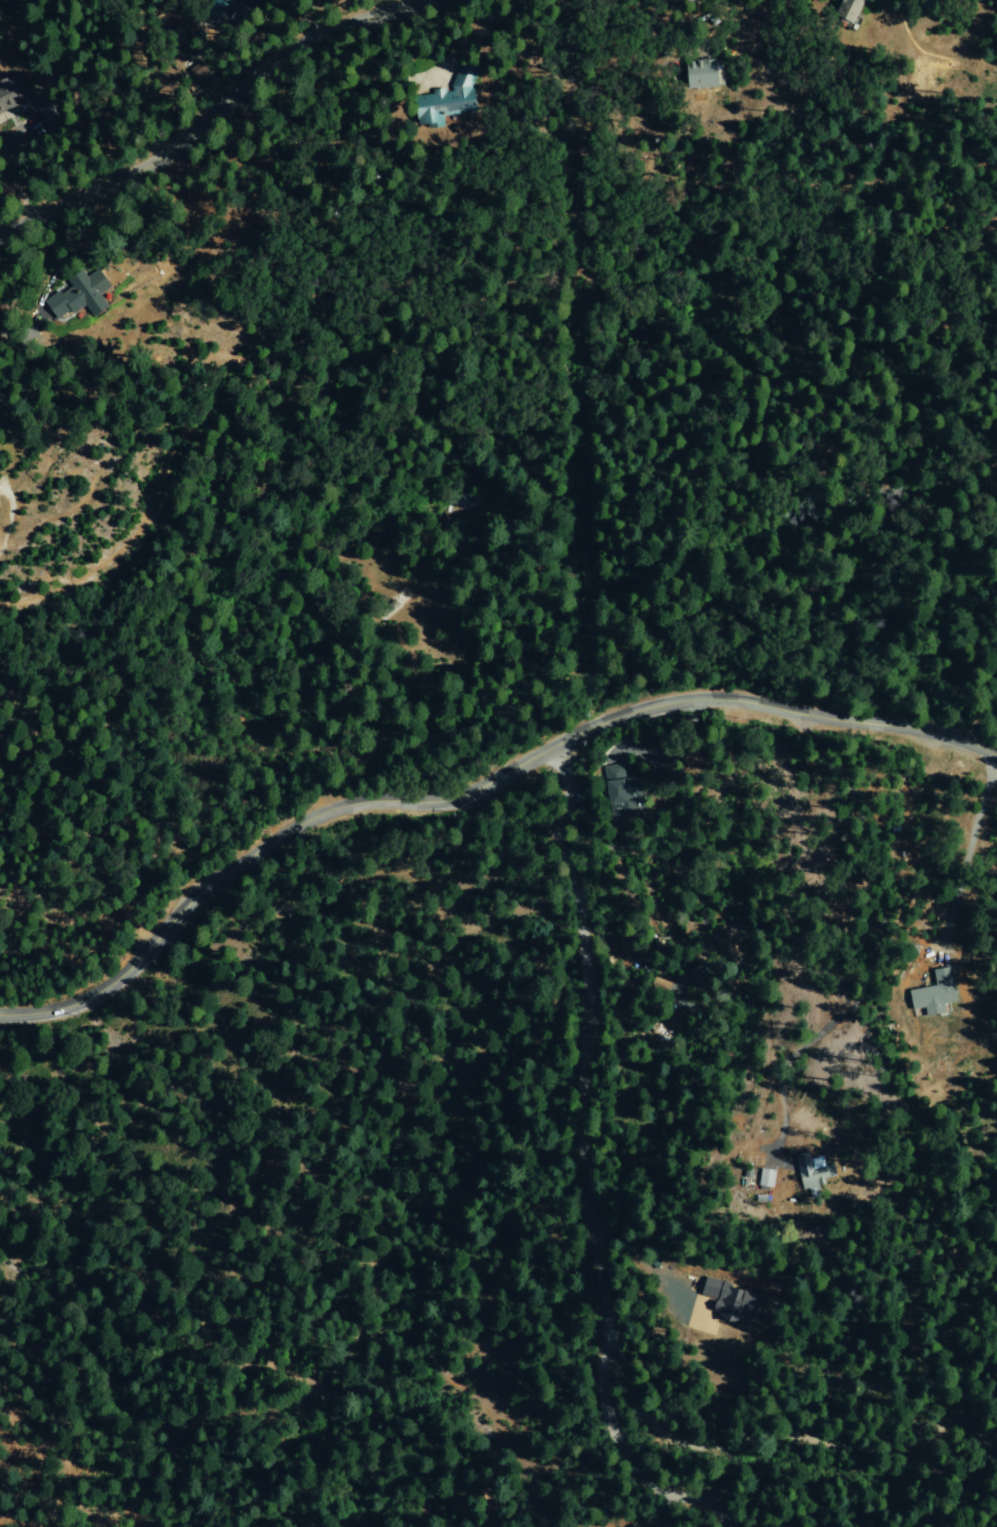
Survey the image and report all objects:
building: (845, 10)
building: (198, 71)
building: (698, 73)
building: (8, 97)
building: (445, 100)
road: (213, 112)
building: (78, 295)
building: (462, 497)
road: (351, 652)
road: (475, 787)
building: (621, 794)
road: (968, 847)
road: (680, 870)
building: (933, 993)
road: (587, 1166)
building: (809, 1169)
building: (765, 1177)
building: (730, 1301)
road: (790, 1432)

